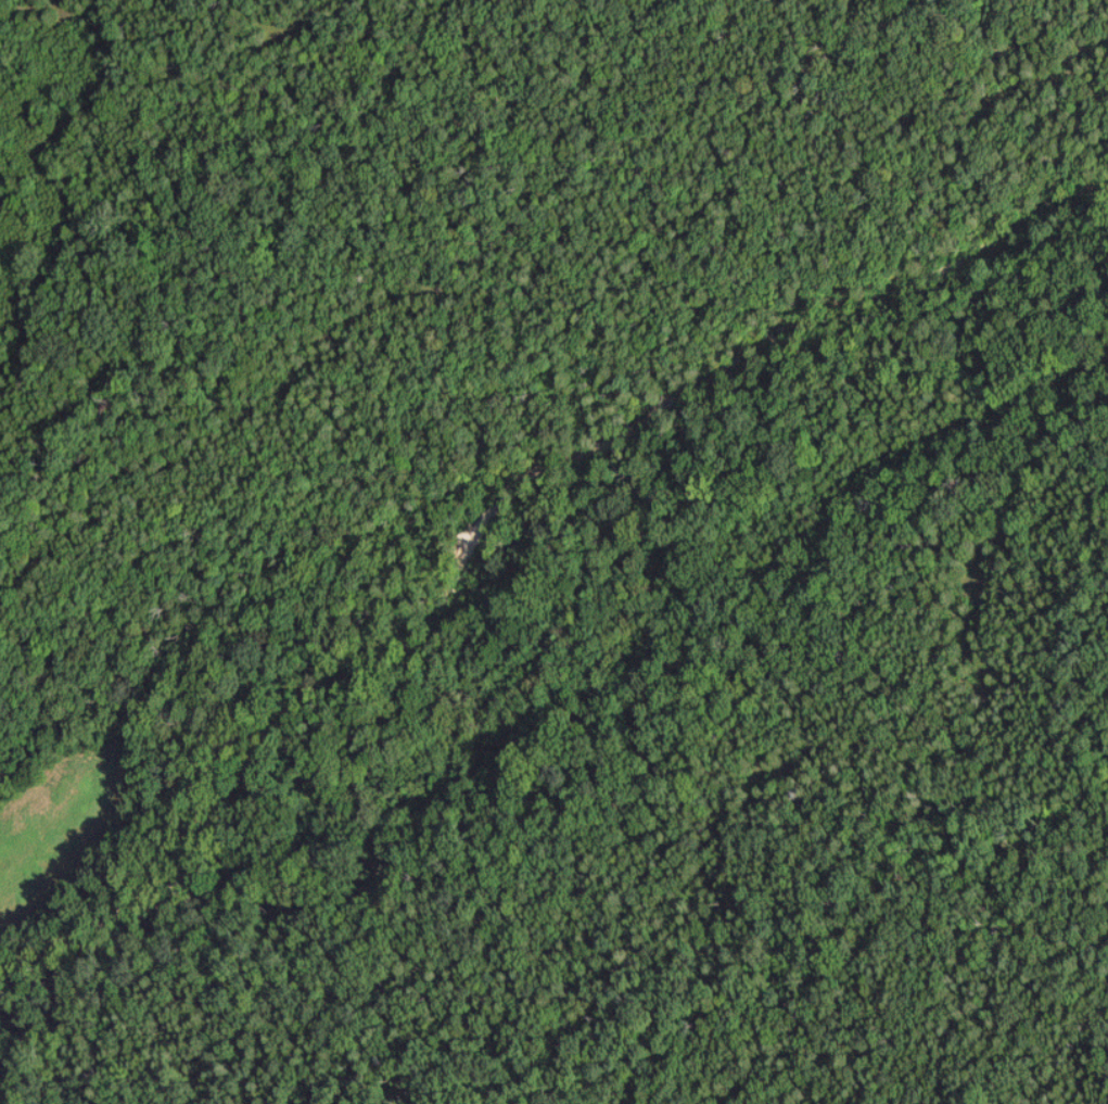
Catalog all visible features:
road: (547, 597)
road: (182, 1019)

